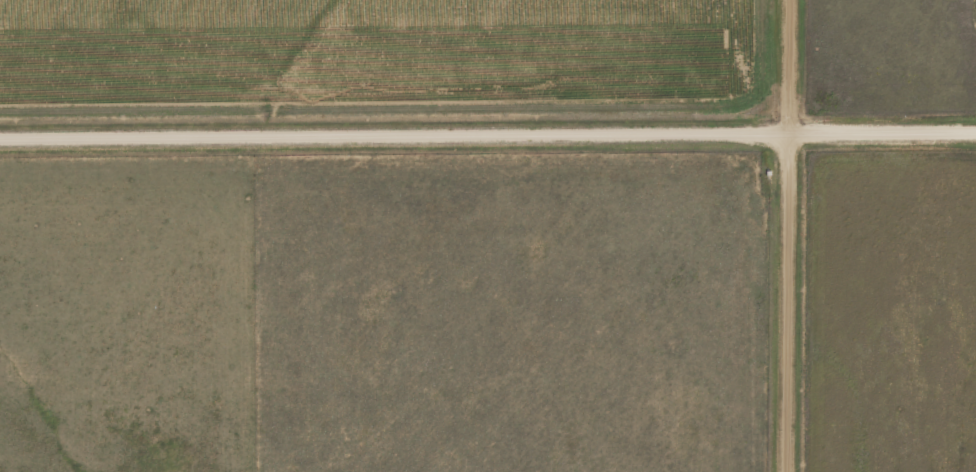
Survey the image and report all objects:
road: (488, 133)
road: (794, 236)

